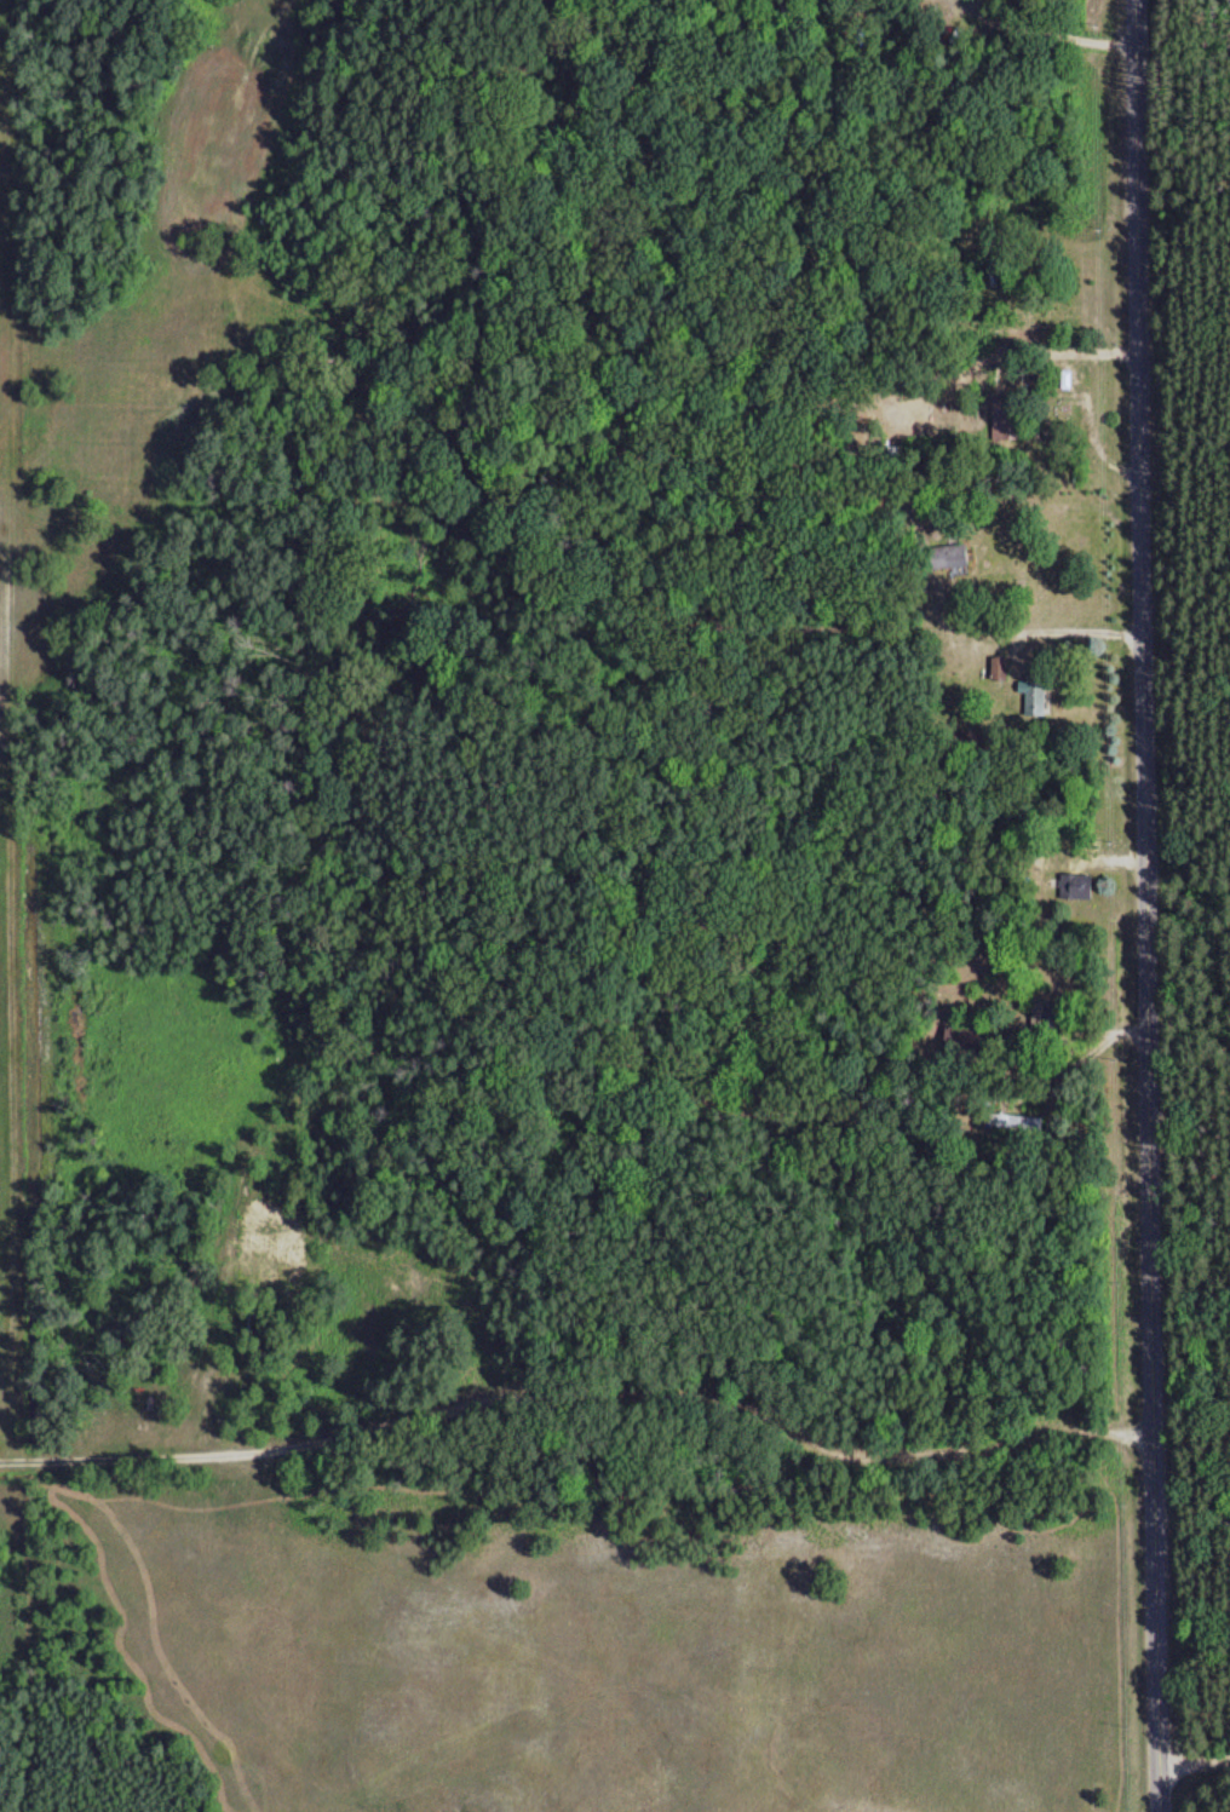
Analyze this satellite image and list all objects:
building: (1002, 668)
building: (1038, 692)
building: (1081, 885)
road: (1144, 905)
building: (1017, 1123)
road: (1192, 1759)

